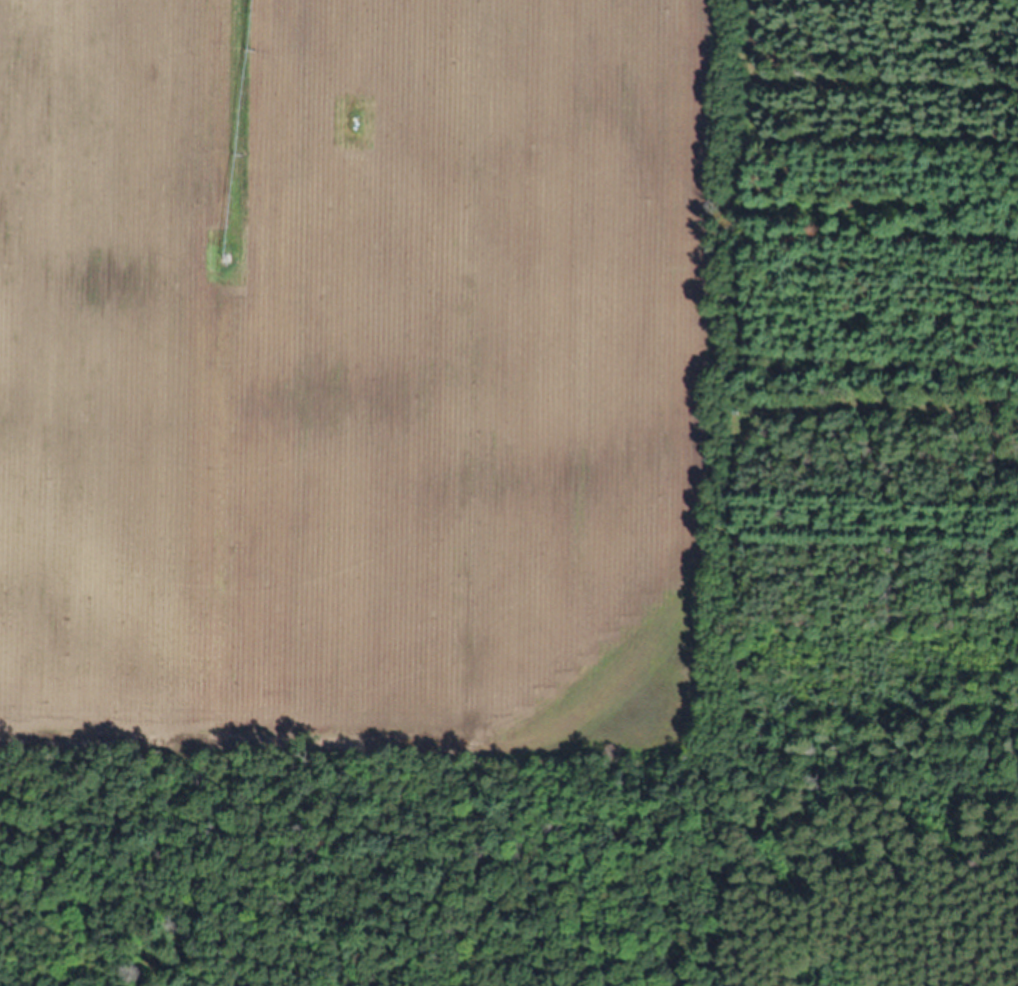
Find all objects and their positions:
crop: (362, 367)

